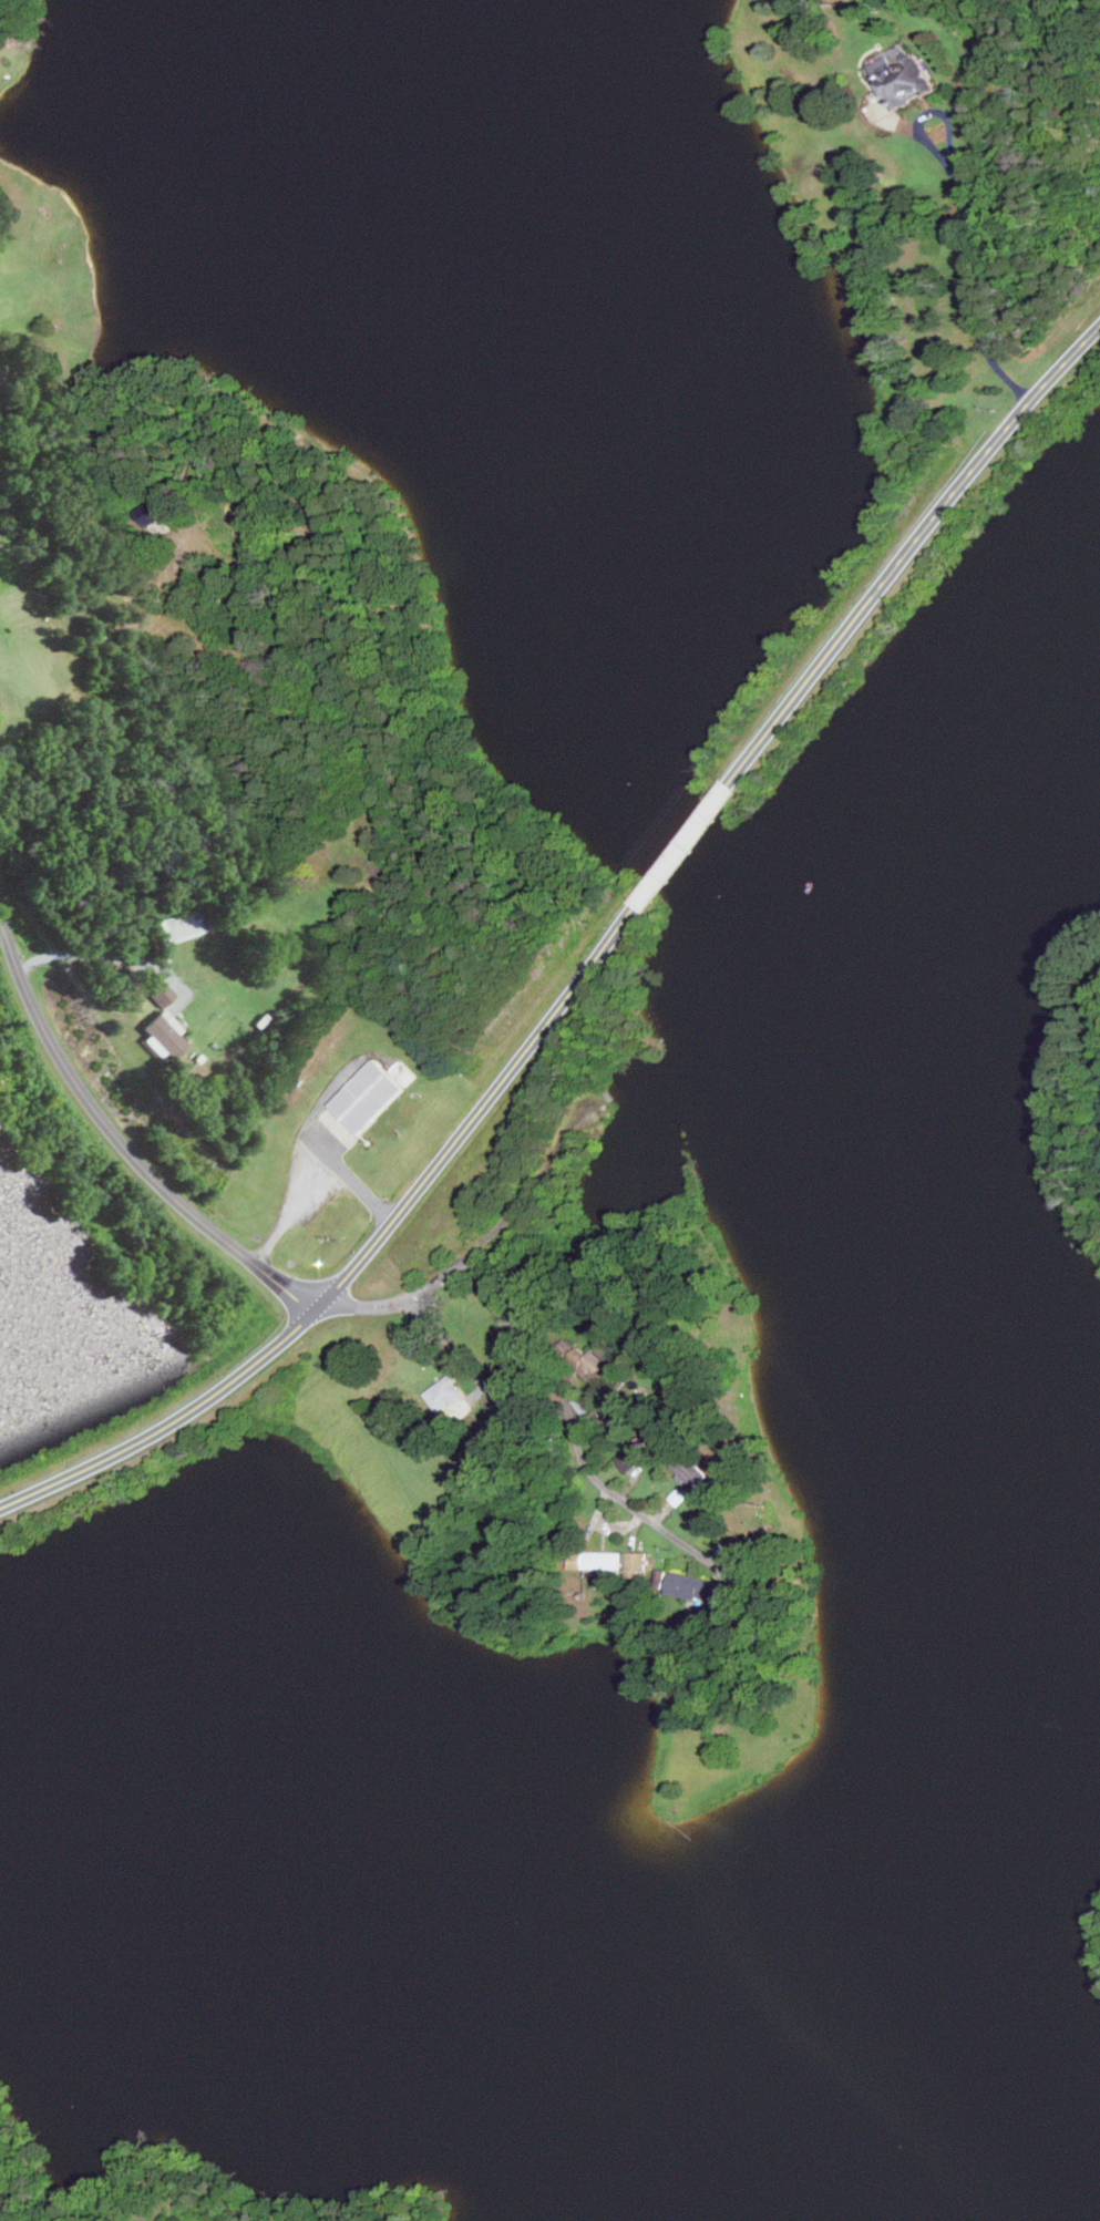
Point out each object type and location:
building: (904, 75)
road: (969, 225)
building: (154, 513)
road: (908, 553)
road: (678, 847)
building: (181, 925)
road: (107, 955)
building: (161, 994)
building: (164, 1035)
building: (371, 1093)
road: (124, 1147)
road: (316, 1189)
road: (360, 1261)
road: (460, 1356)
building: (605, 1361)
road: (548, 1365)
building: (446, 1394)
building: (640, 1453)
building: (691, 1473)
building: (604, 1561)
building: (698, 1587)

